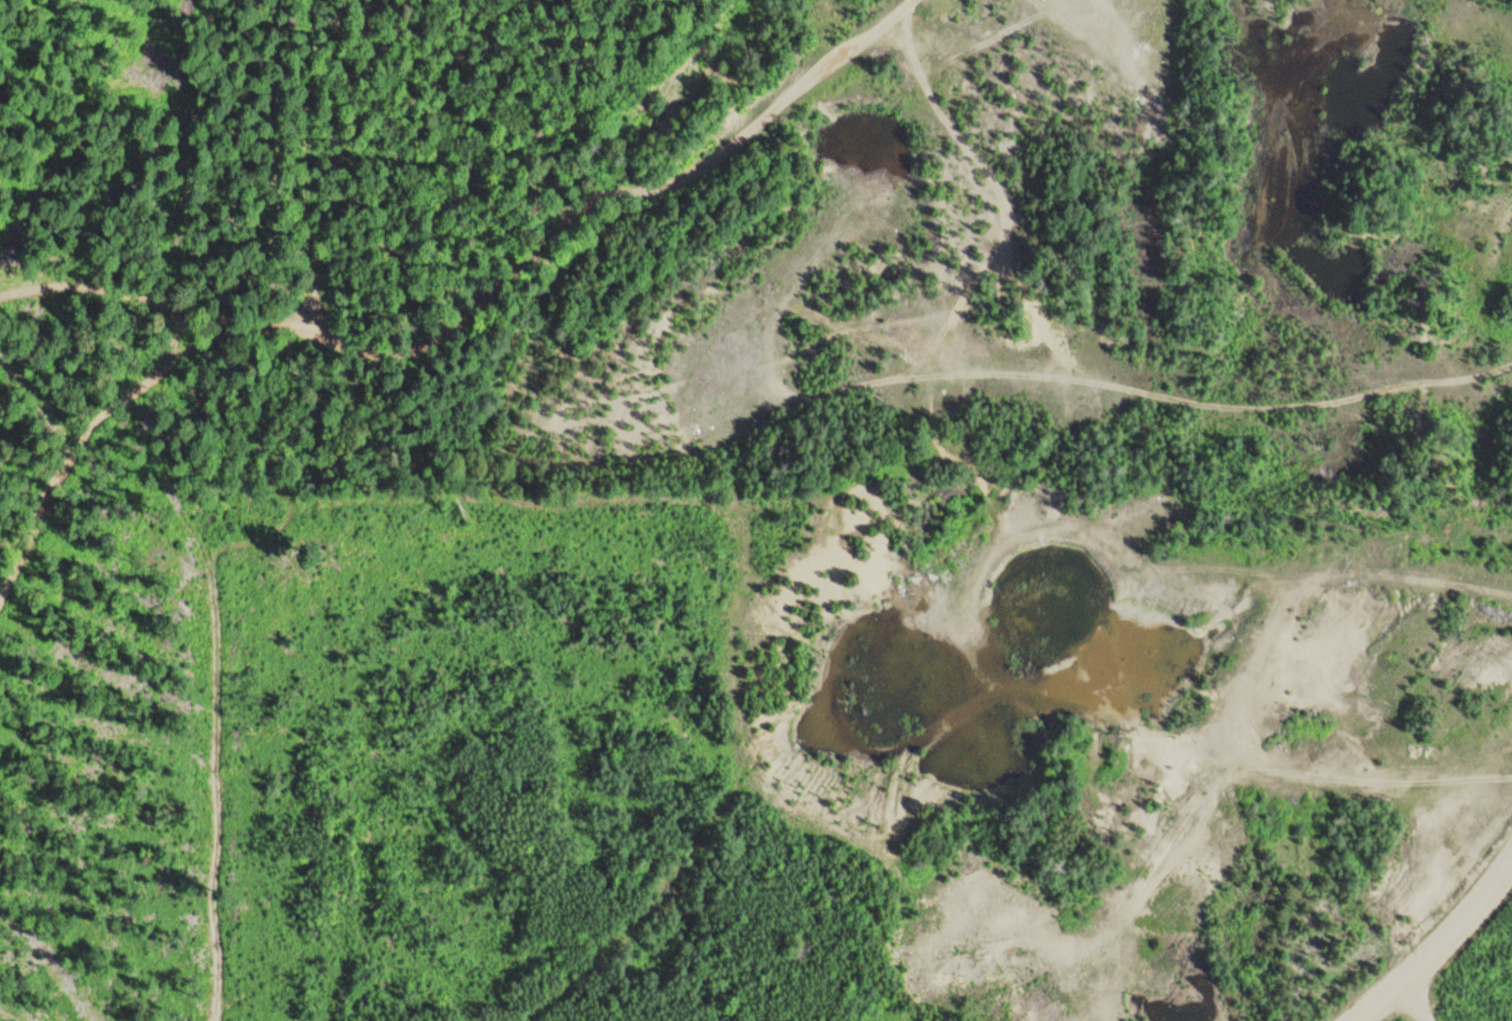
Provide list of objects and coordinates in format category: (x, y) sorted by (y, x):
road: (423, 337)
road: (1442, 944)

